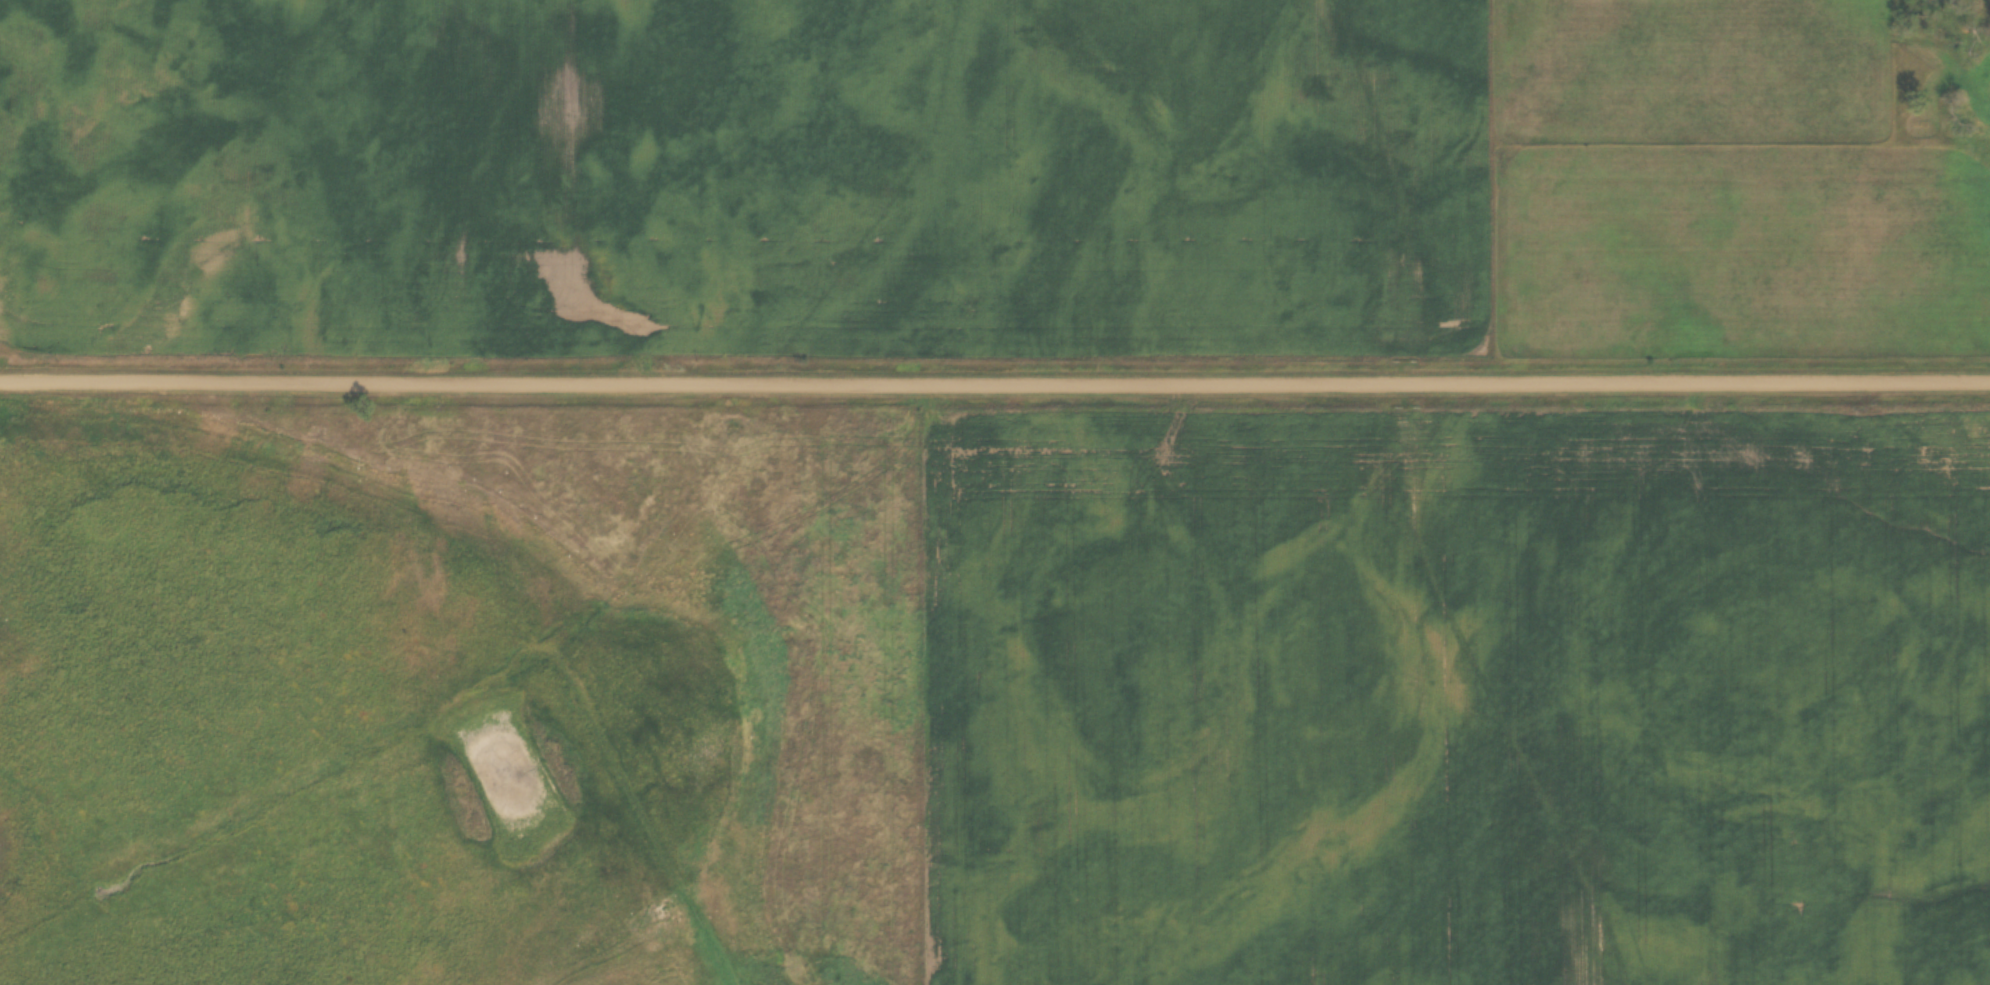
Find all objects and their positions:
road: (995, 384)

